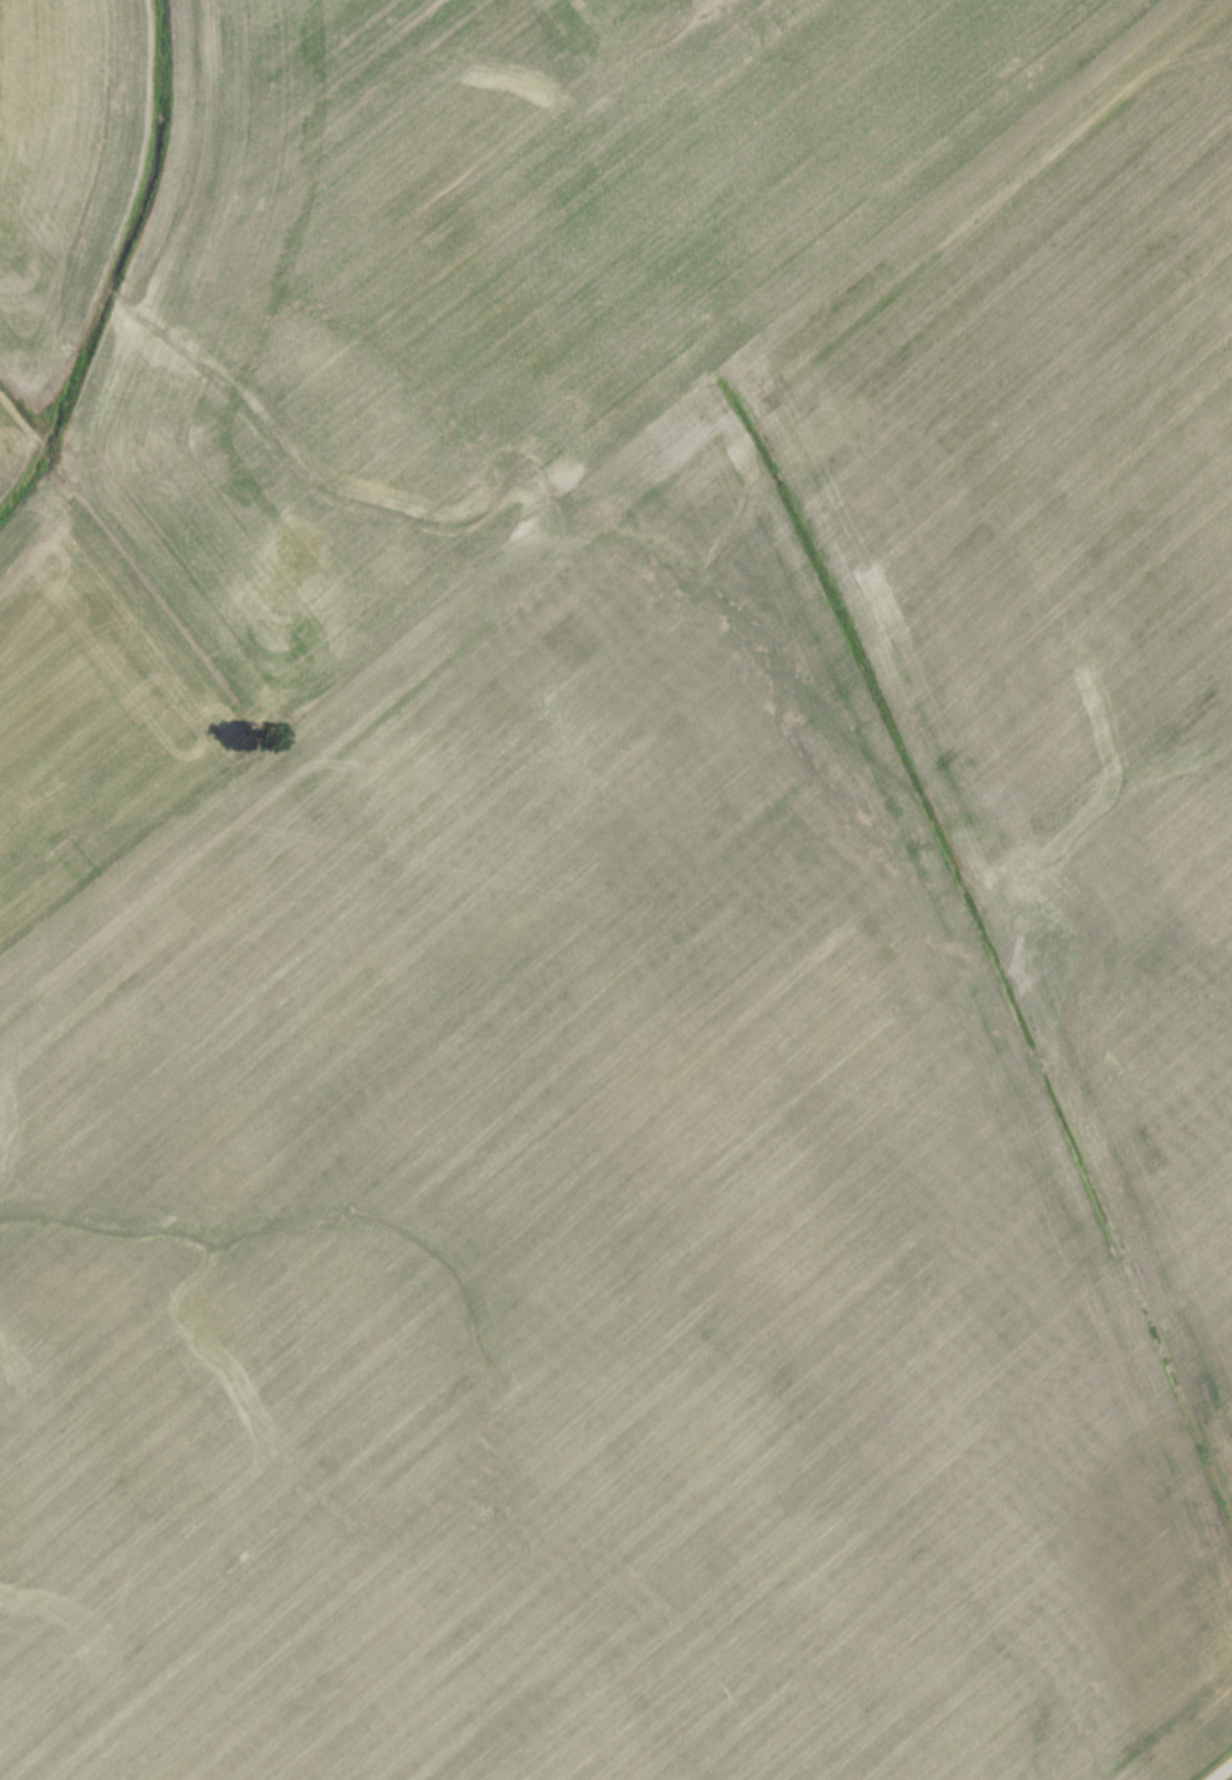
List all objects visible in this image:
road: (1230, 1778)

